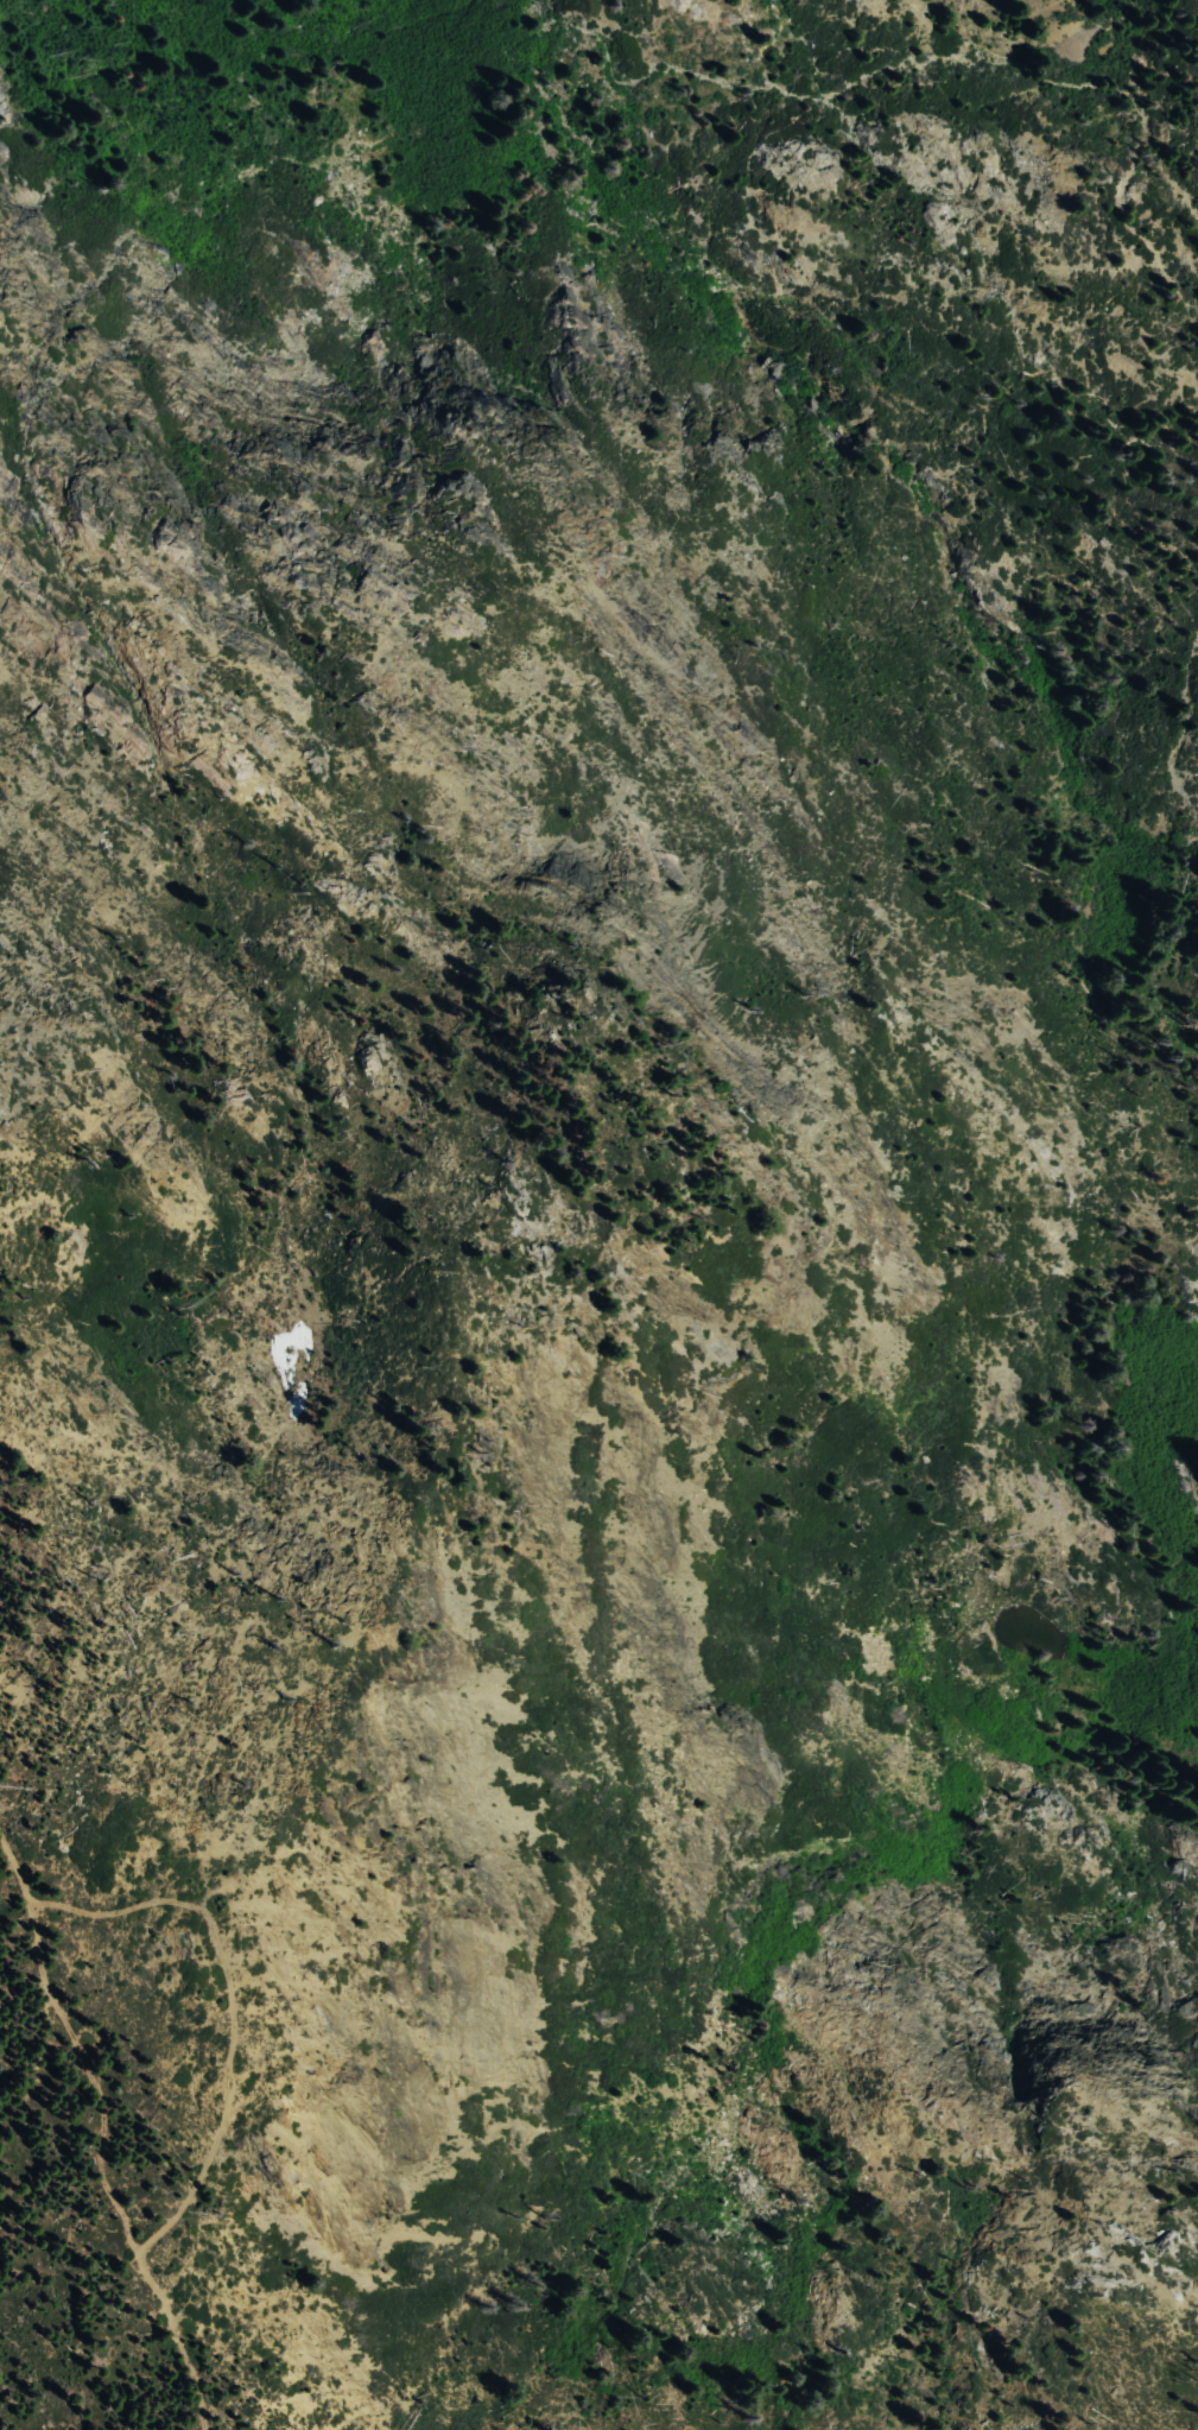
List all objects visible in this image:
road: (1101, 42)
road: (1035, 68)
road: (1174, 688)

